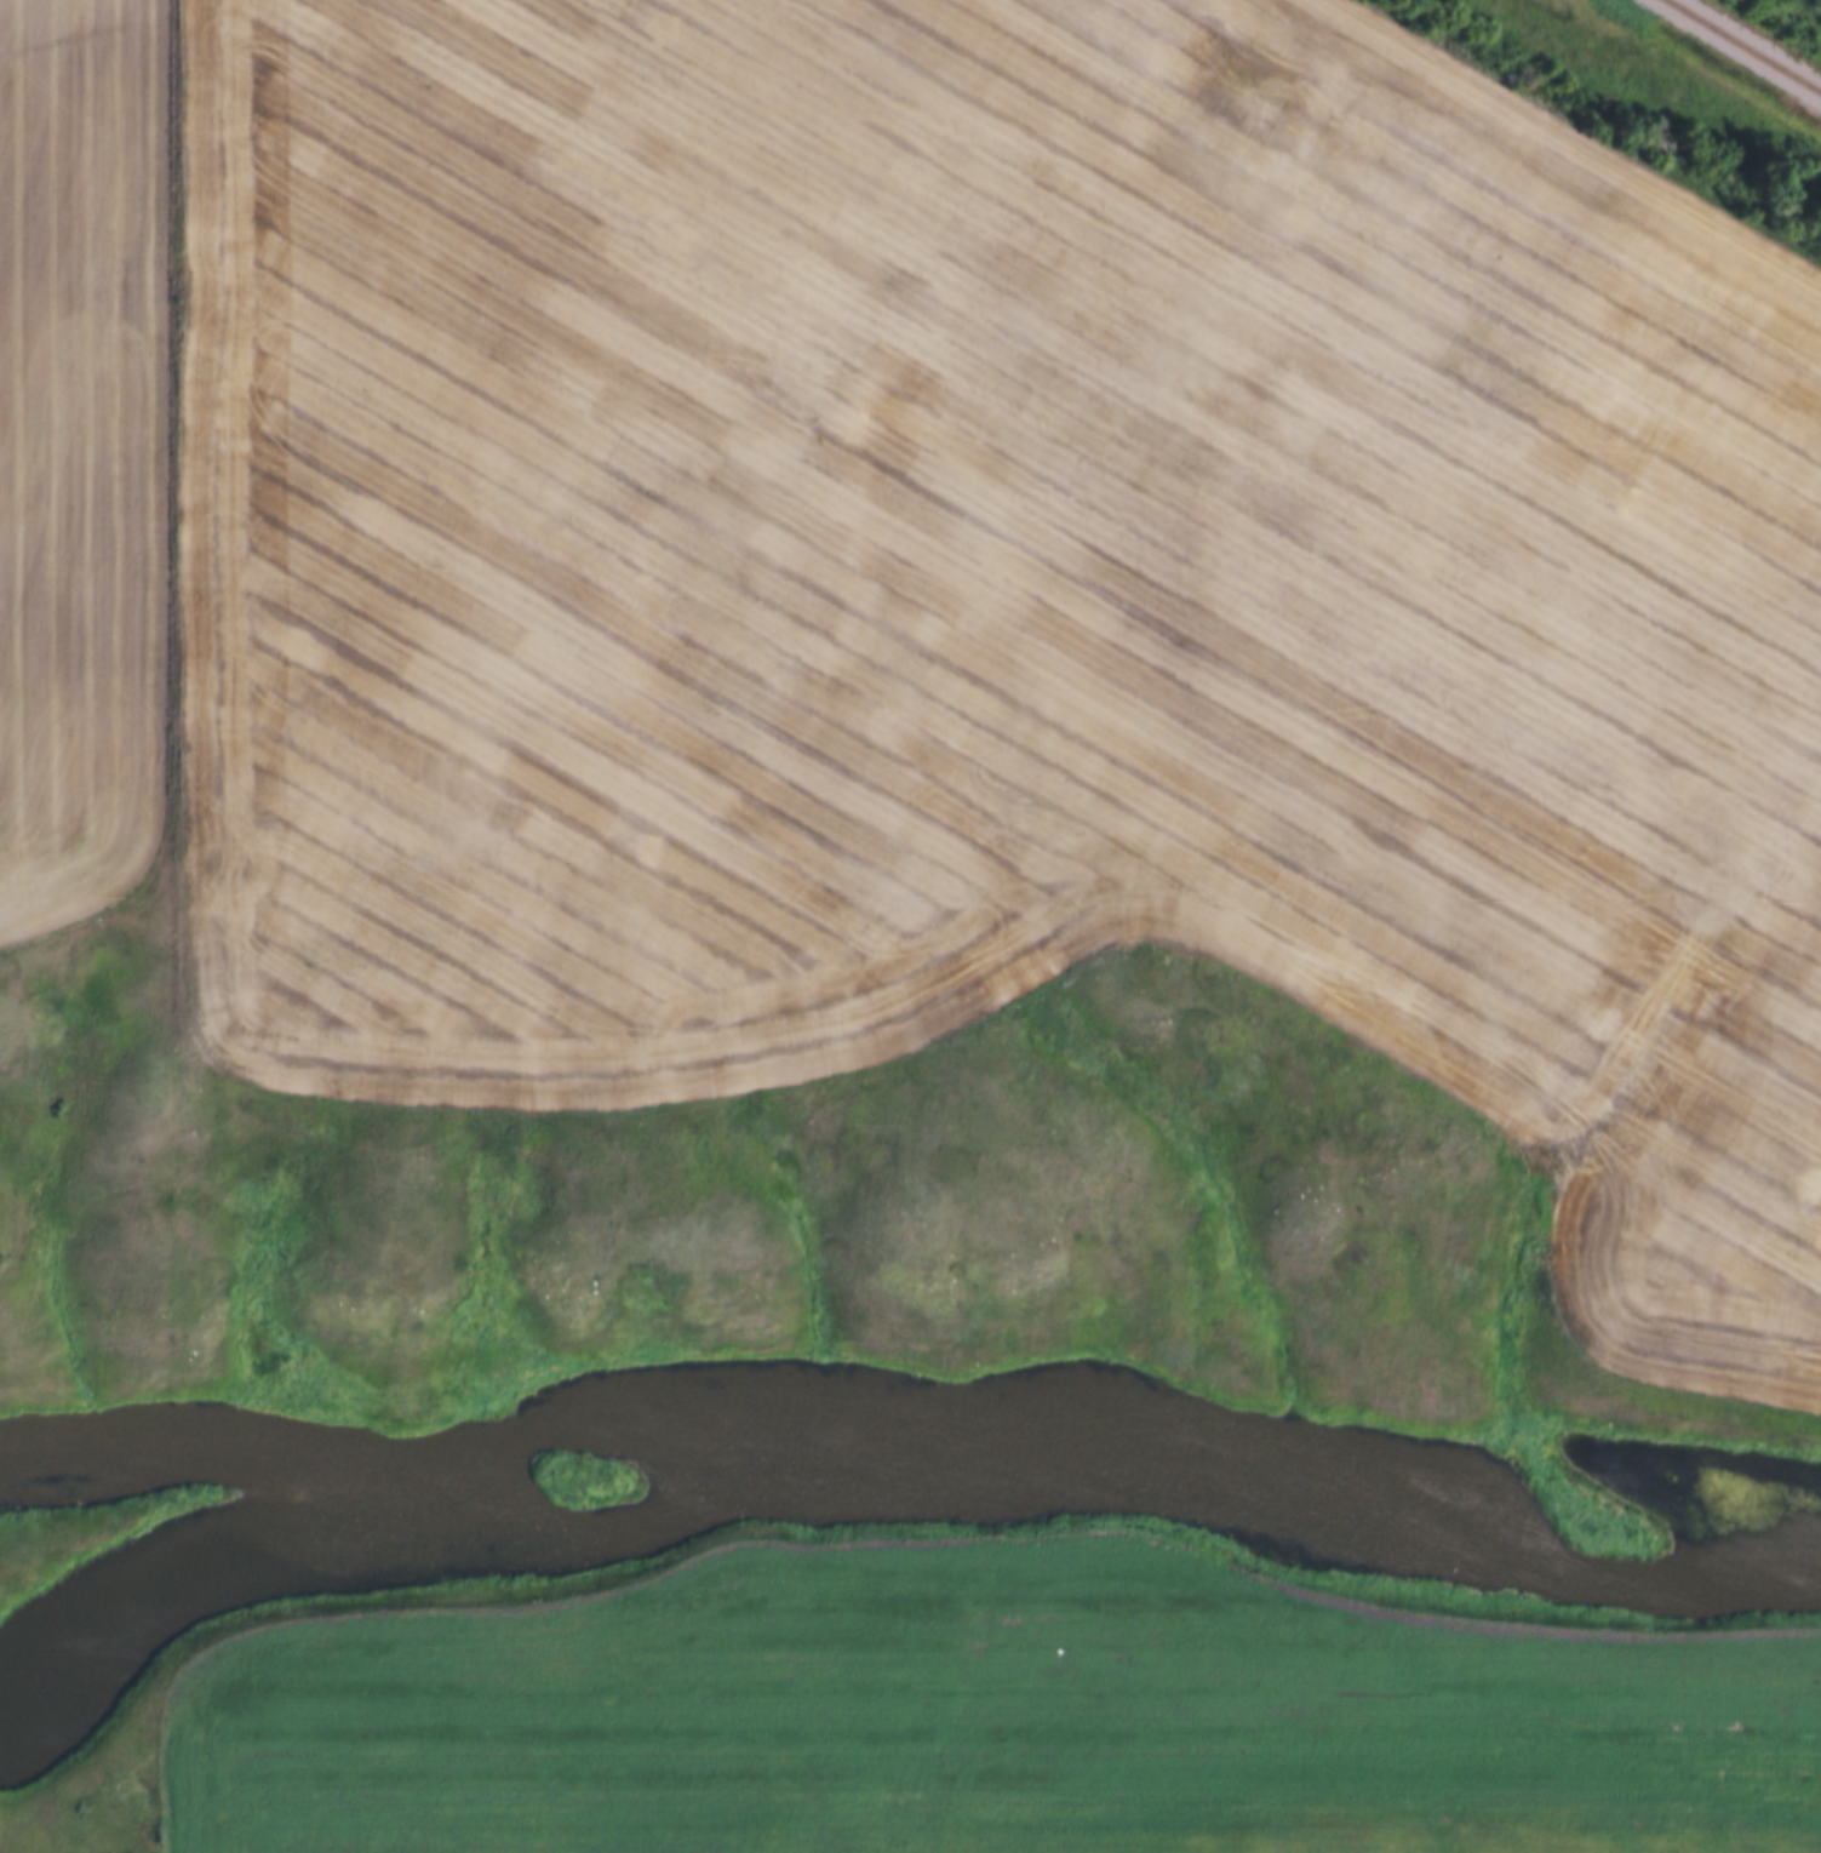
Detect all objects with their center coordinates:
railway: (1742, 46)
river: (916, 1437)

